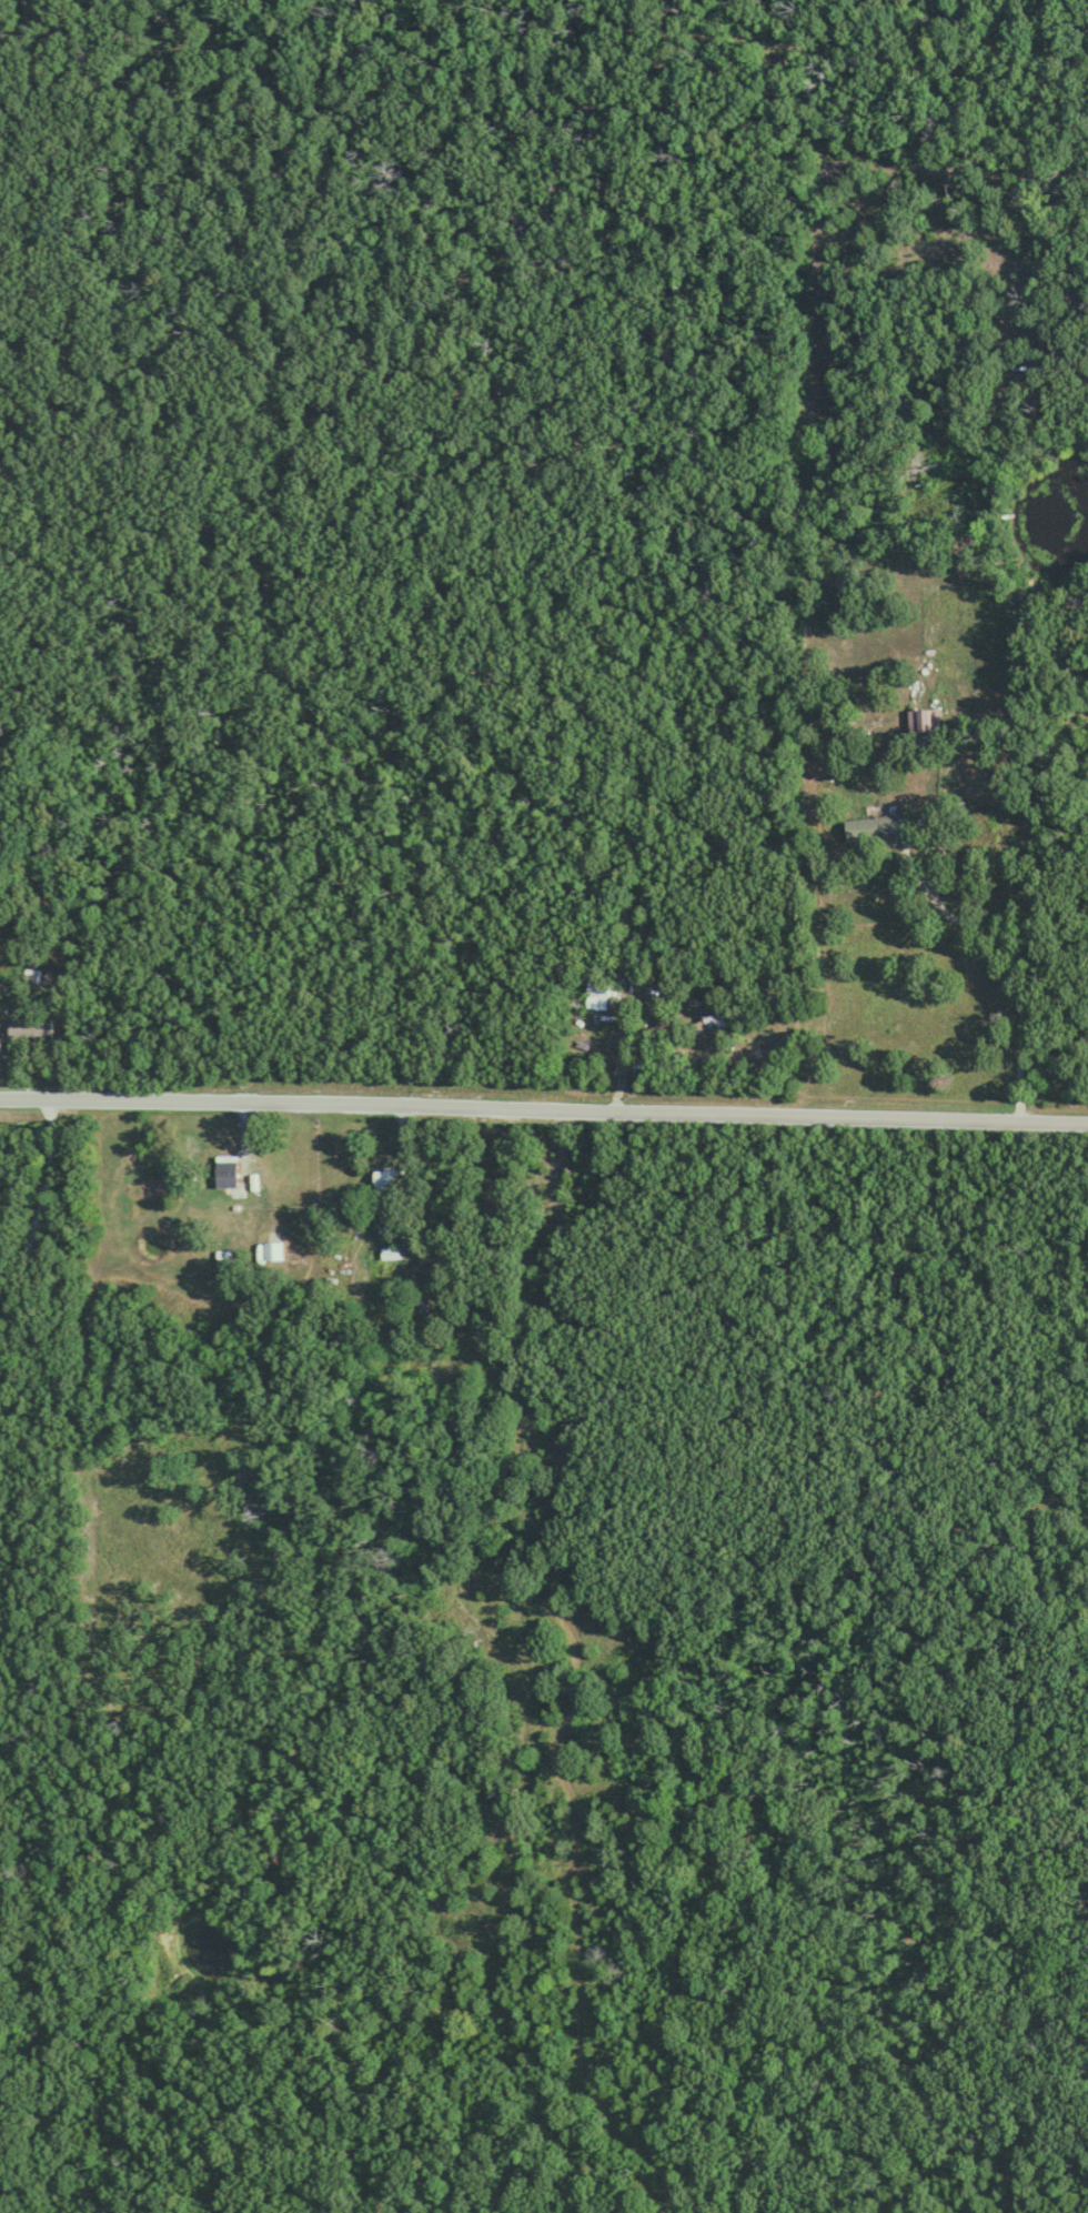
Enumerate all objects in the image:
building: (923, 721)
building: (874, 828)
road: (959, 918)
building: (595, 996)
building: (712, 1015)
building: (28, 1028)
road: (544, 1104)
road: (251, 1157)
building: (229, 1176)
building: (384, 1183)
road: (33, 1206)
building: (274, 1250)
building: (389, 1253)

